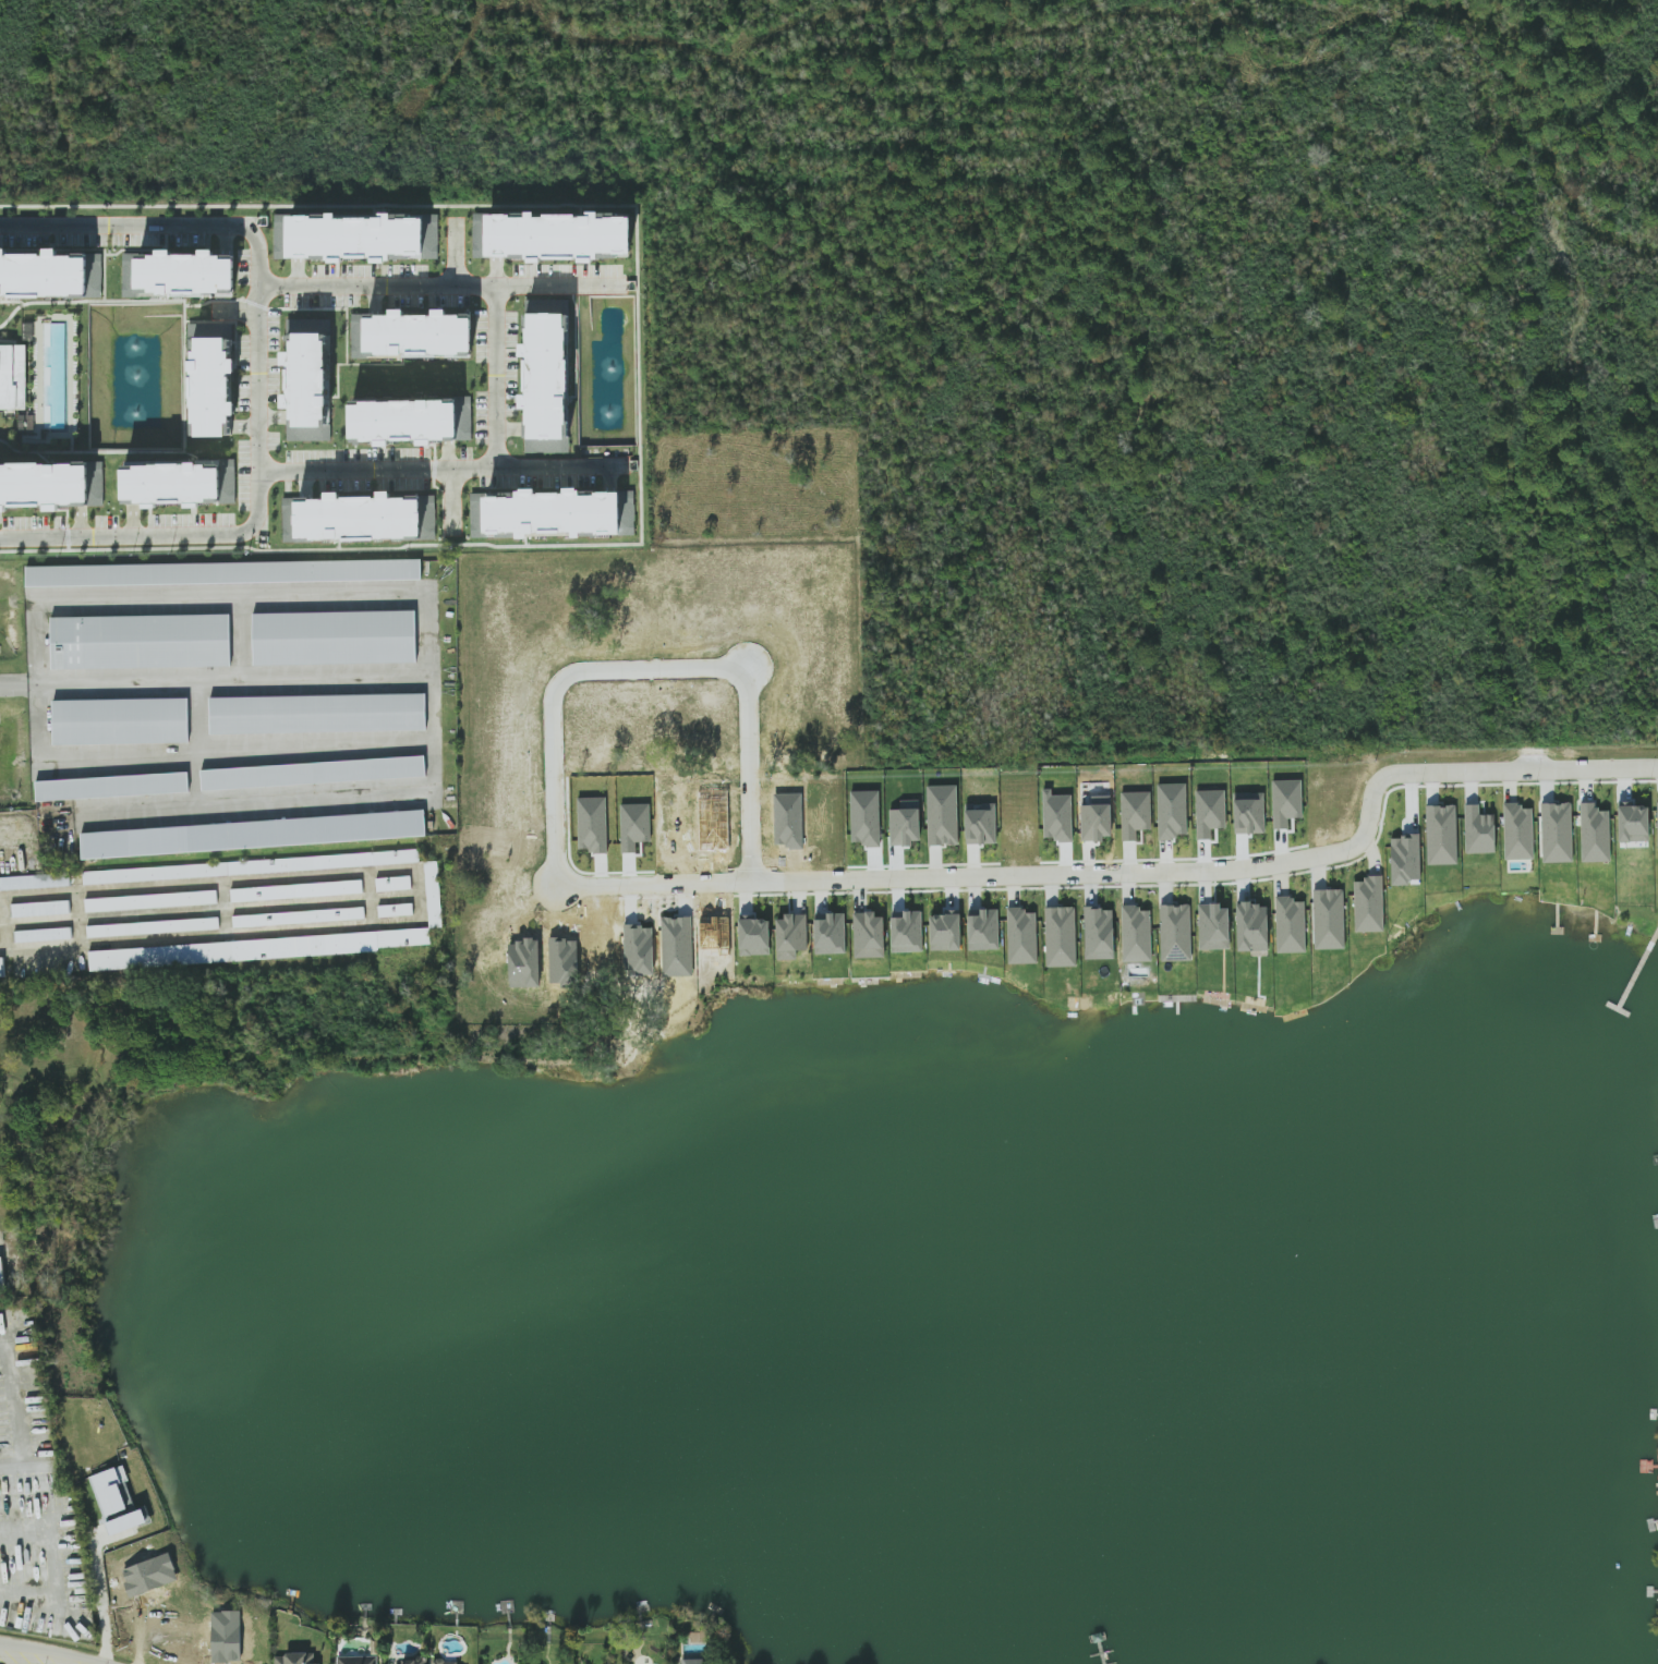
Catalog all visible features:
building: (280, 235)
building: (550, 236)
building: (362, 238)
building: (178, 274)
building: (44, 275)
road: (438, 284)
building: (419, 333)
building: (306, 376)
road: (497, 376)
building: (546, 376)
building: (13, 377)
road: (258, 378)
building: (410, 421)
road: (435, 469)
building: (44, 485)
building: (179, 485)
building: (545, 514)
building: (360, 518)
building: (628, 519)
building: (226, 572)
road: (240, 633)
road: (33, 634)
building: (335, 637)
building: (141, 641)
road: (646, 672)
road: (431, 692)
building: (318, 713)
road: (196, 714)
building: (121, 720)
building: (314, 773)
road: (194, 776)
building: (112, 786)
building: (1286, 802)
building: (1172, 810)
building: (1135, 813)
building: (942, 815)
building: (1057, 816)
building: (866, 818)
building: (1097, 819)
building: (1633, 822)
building: (981, 823)
building: (1657, 824)
building: (1479, 830)
building: (1518, 831)
building: (1557, 831)
building: (253, 834)
building: (1595, 834)
building: (1441, 835)
building: (239, 867)
road: (1131, 867)
building: (34, 884)
building: (295, 890)
road: (420, 895)
building: (150, 900)
building: (344, 903)
building: (1369, 904)
building: (40, 909)
building: (299, 916)
building: (1329, 919)
building: (146, 925)
building: (1290, 925)
building: (1213, 926)
building: (1252, 927)
building: (983, 930)
building: (907, 931)
building: (945, 931)
building: (1175, 932)
building: (830, 933)
building: (1137, 934)
building: (44, 935)
building: (791, 935)
building: (869, 935)
building: (1021, 936)
building: (1061, 936)
building: (259, 948)
building: (1, 1276)
building: (117, 1501)
road: (101, 1601)
road: (49, 1651)
building: (296, 1659)
building: (358, 1660)
building: (415, 1661)
building: (695, 1661)
building: (445, 1662)

